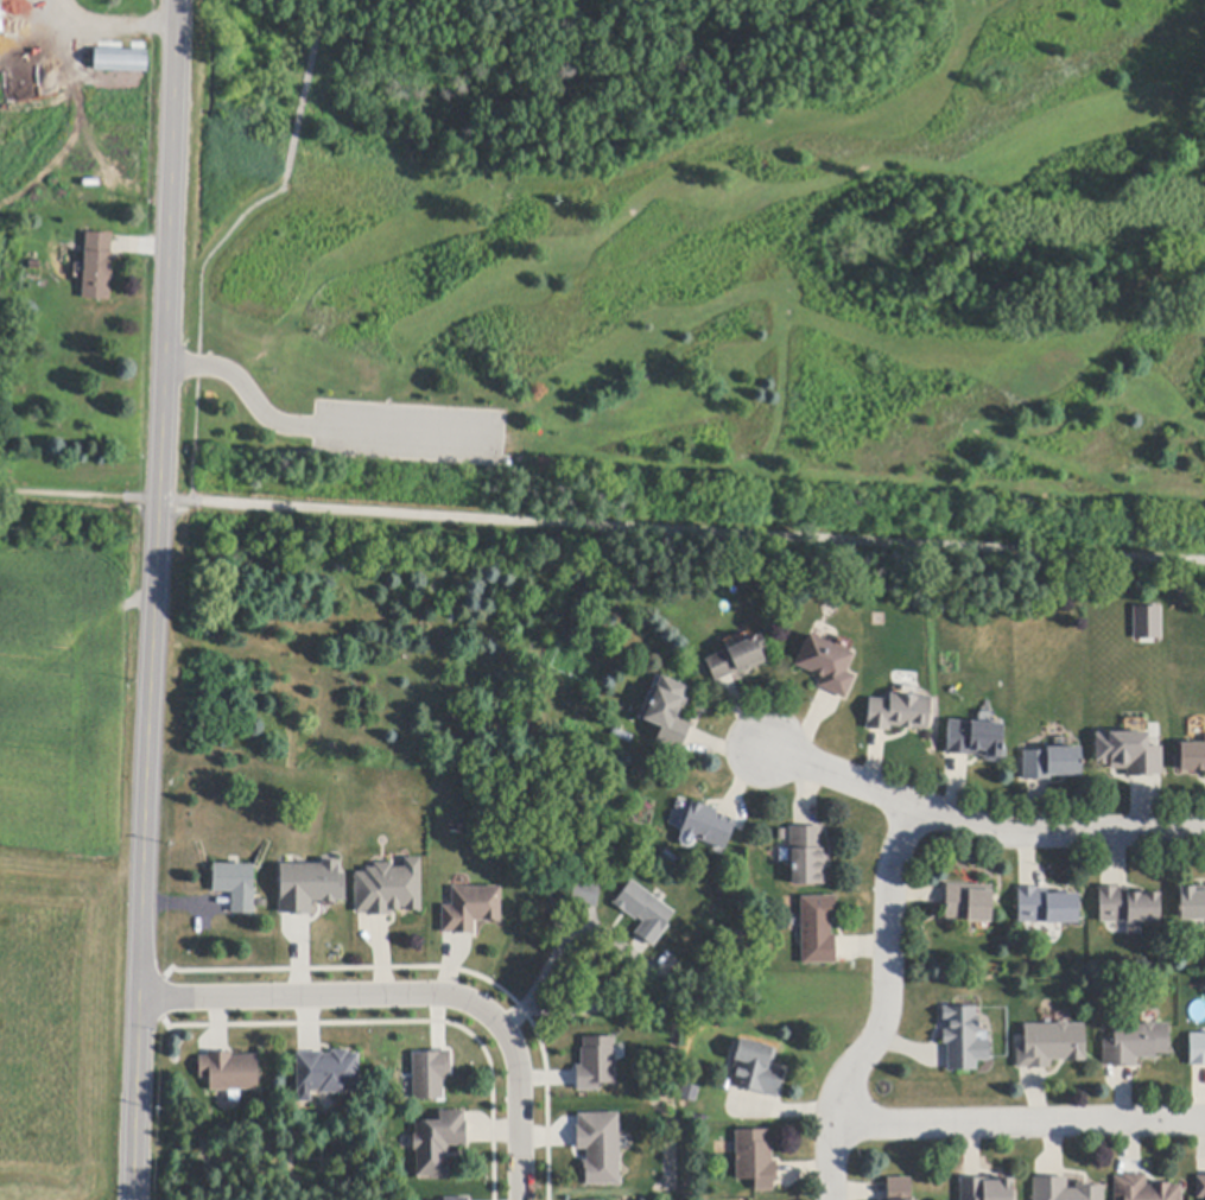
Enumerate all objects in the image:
road: (112, 21)
building: (0, 26)
building: (121, 61)
road: (305, 90)
park: (700, 260)
building: (97, 267)
road: (197, 322)
road: (317, 426)
parking lot: (410, 432)
road: (602, 525)
road: (153, 599)
building: (1147, 623)
building: (737, 658)
building: (826, 665)
building: (667, 712)
building: (899, 713)
building: (976, 741)
building: (1129, 754)
building: (1191, 757)
building: (1052, 764)
road: (977, 824)
building: (708, 826)
building: (808, 857)
crop: (66, 859)
building: (236, 887)
building: (309, 887)
building: (389, 889)
building: (585, 894)
building: (969, 903)
building: (1192, 903)
building: (1047, 907)
building: (1129, 908)
building: (470, 909)
building: (645, 913)
building: (818, 931)
road: (546, 969)
road: (318, 996)
road: (884, 1008)
building: (963, 1039)
building: (1135, 1045)
building: (1051, 1046)
building: (1197, 1050)
building: (596, 1064)
building: (756, 1069)
building: (229, 1072)
building: (328, 1073)
building: (430, 1073)
building: (689, 1092)
road: (518, 1104)
road: (1017, 1119)
building: (438, 1143)
building: (597, 1144)
building: (755, 1160)
building: (1200, 1187)
building: (899, 1188)
building: (987, 1189)
building: (1143, 1189)
building: (1064, 1191)
building: (459, 1199)

